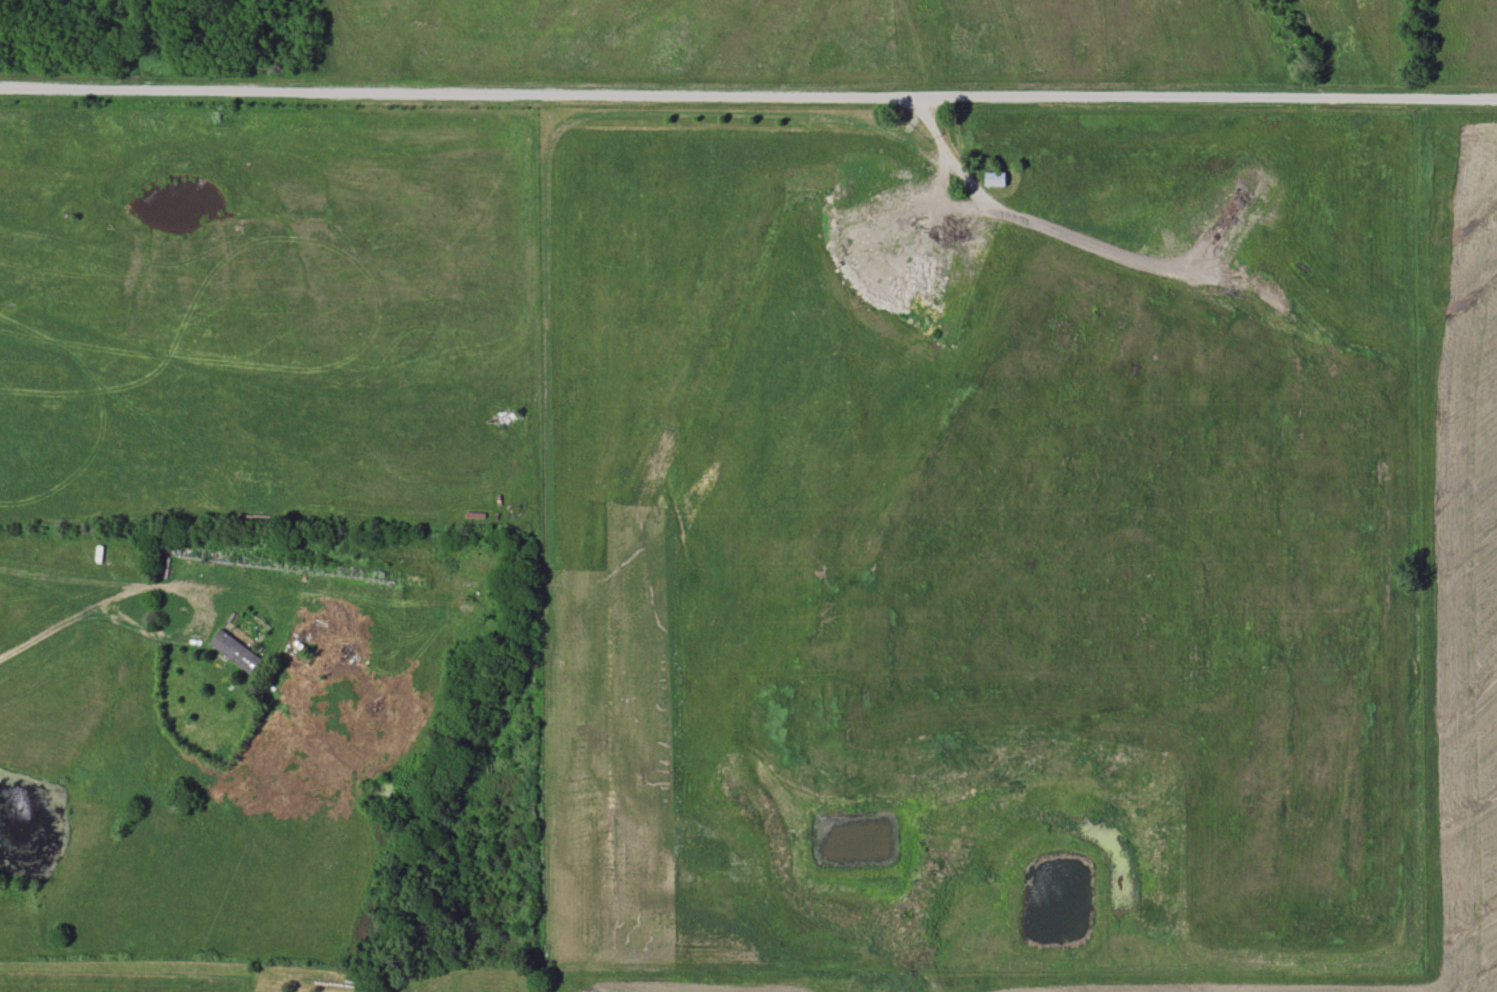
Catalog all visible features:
road: (748, 95)
road: (945, 146)
building: (996, 179)
building: (234, 651)

